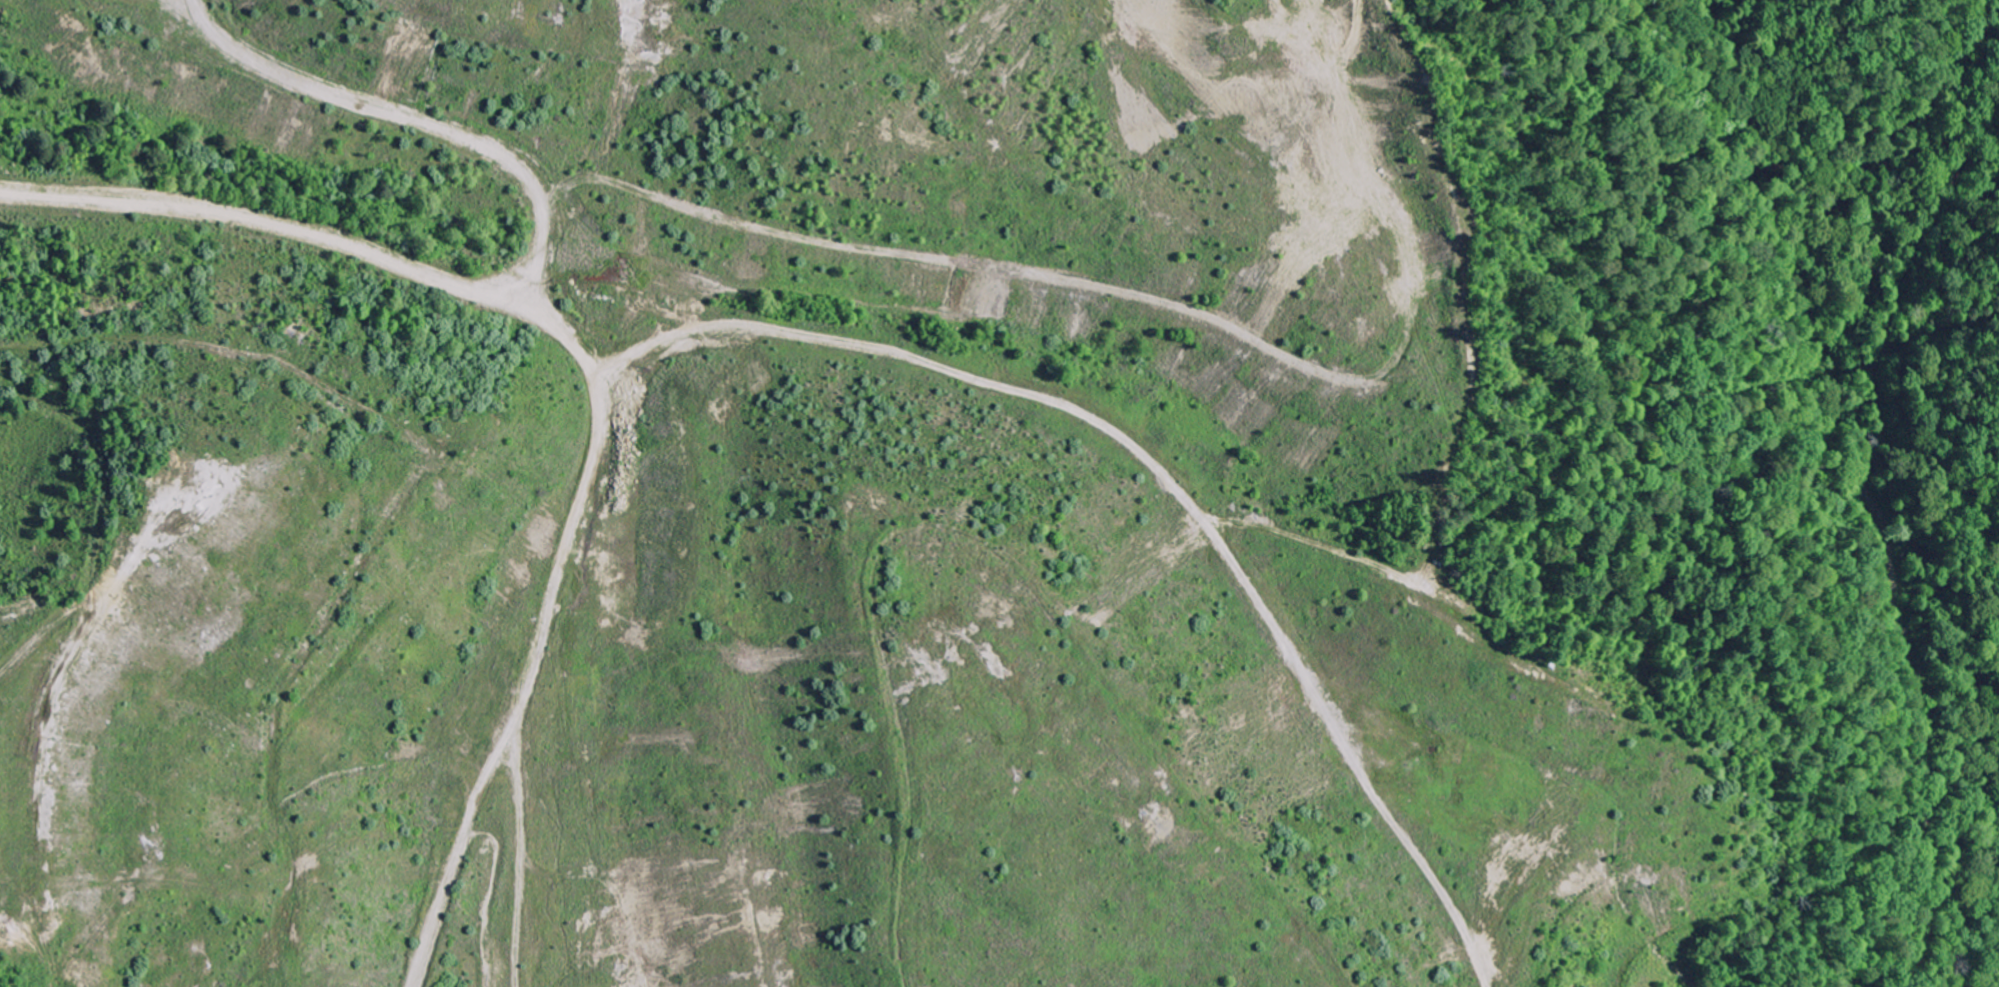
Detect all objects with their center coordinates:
road: (549, 328)

